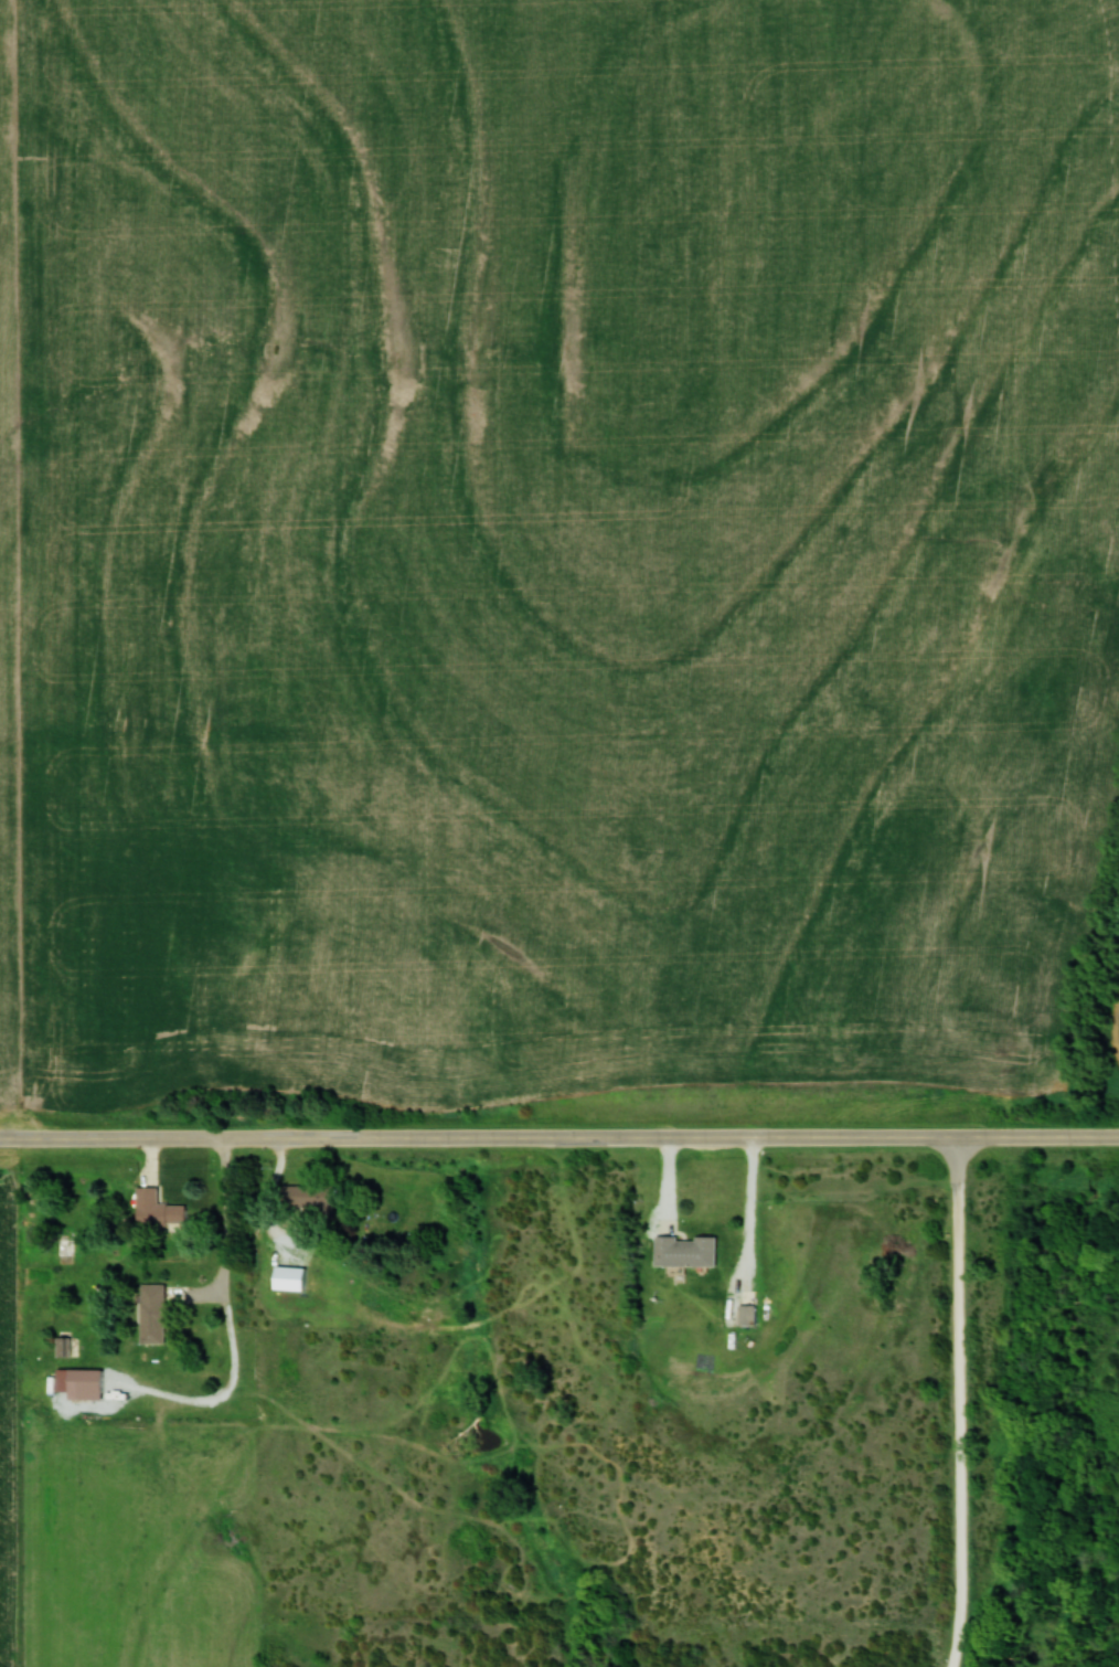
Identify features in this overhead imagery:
road: (1027, 1137)
road: (468, 1139)
building: (315, 1196)
building: (160, 1209)
road: (755, 1213)
building: (691, 1250)
building: (157, 1313)
road: (236, 1315)
building: (64, 1347)
park: (1027, 1378)
building: (86, 1385)
road: (962, 1402)

